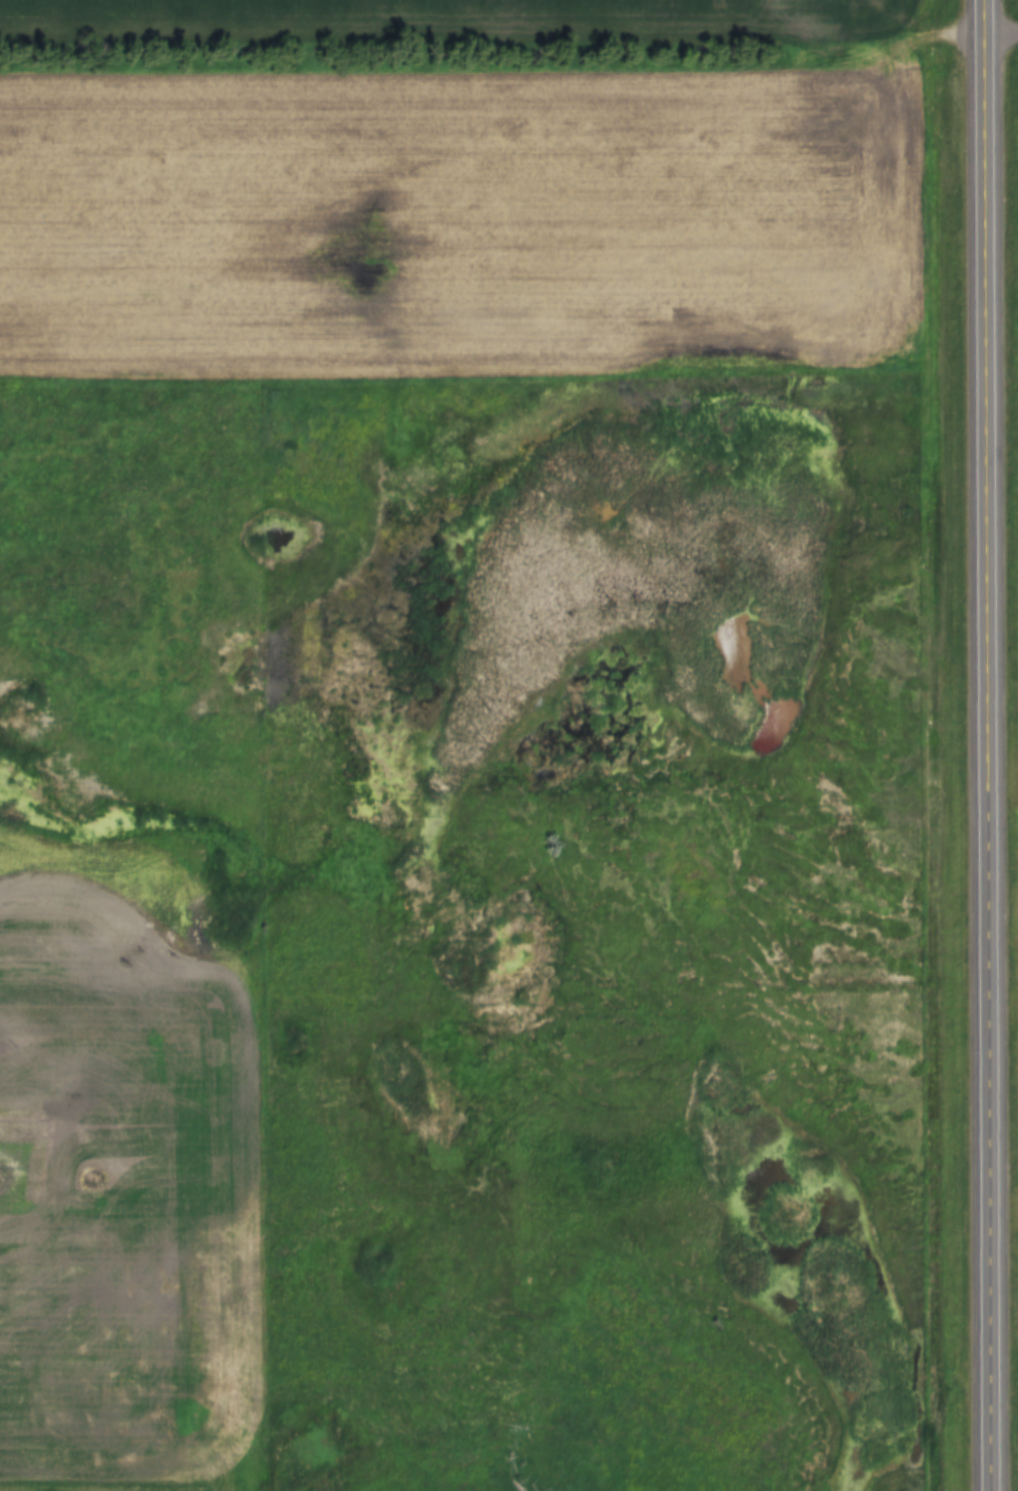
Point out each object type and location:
road: (1003, 745)

